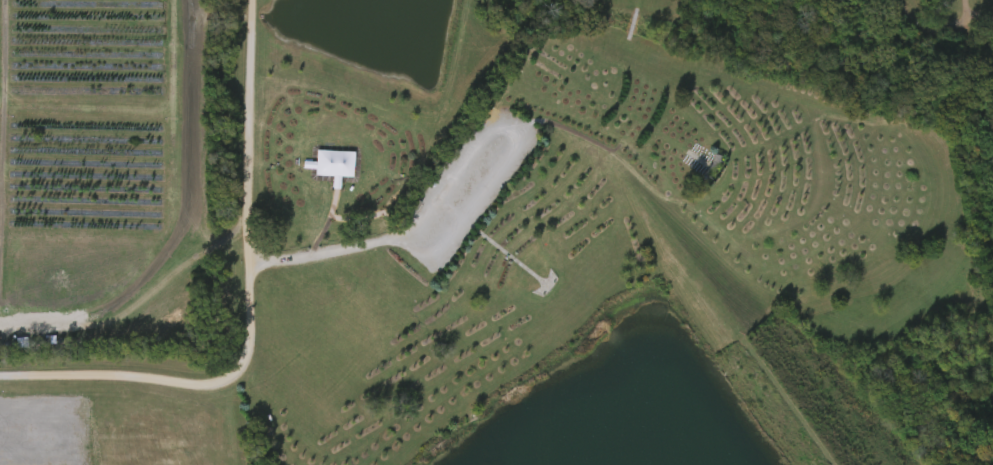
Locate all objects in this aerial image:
building: (337, 163)
road: (325, 250)
road: (250, 310)
dam: (764, 353)

